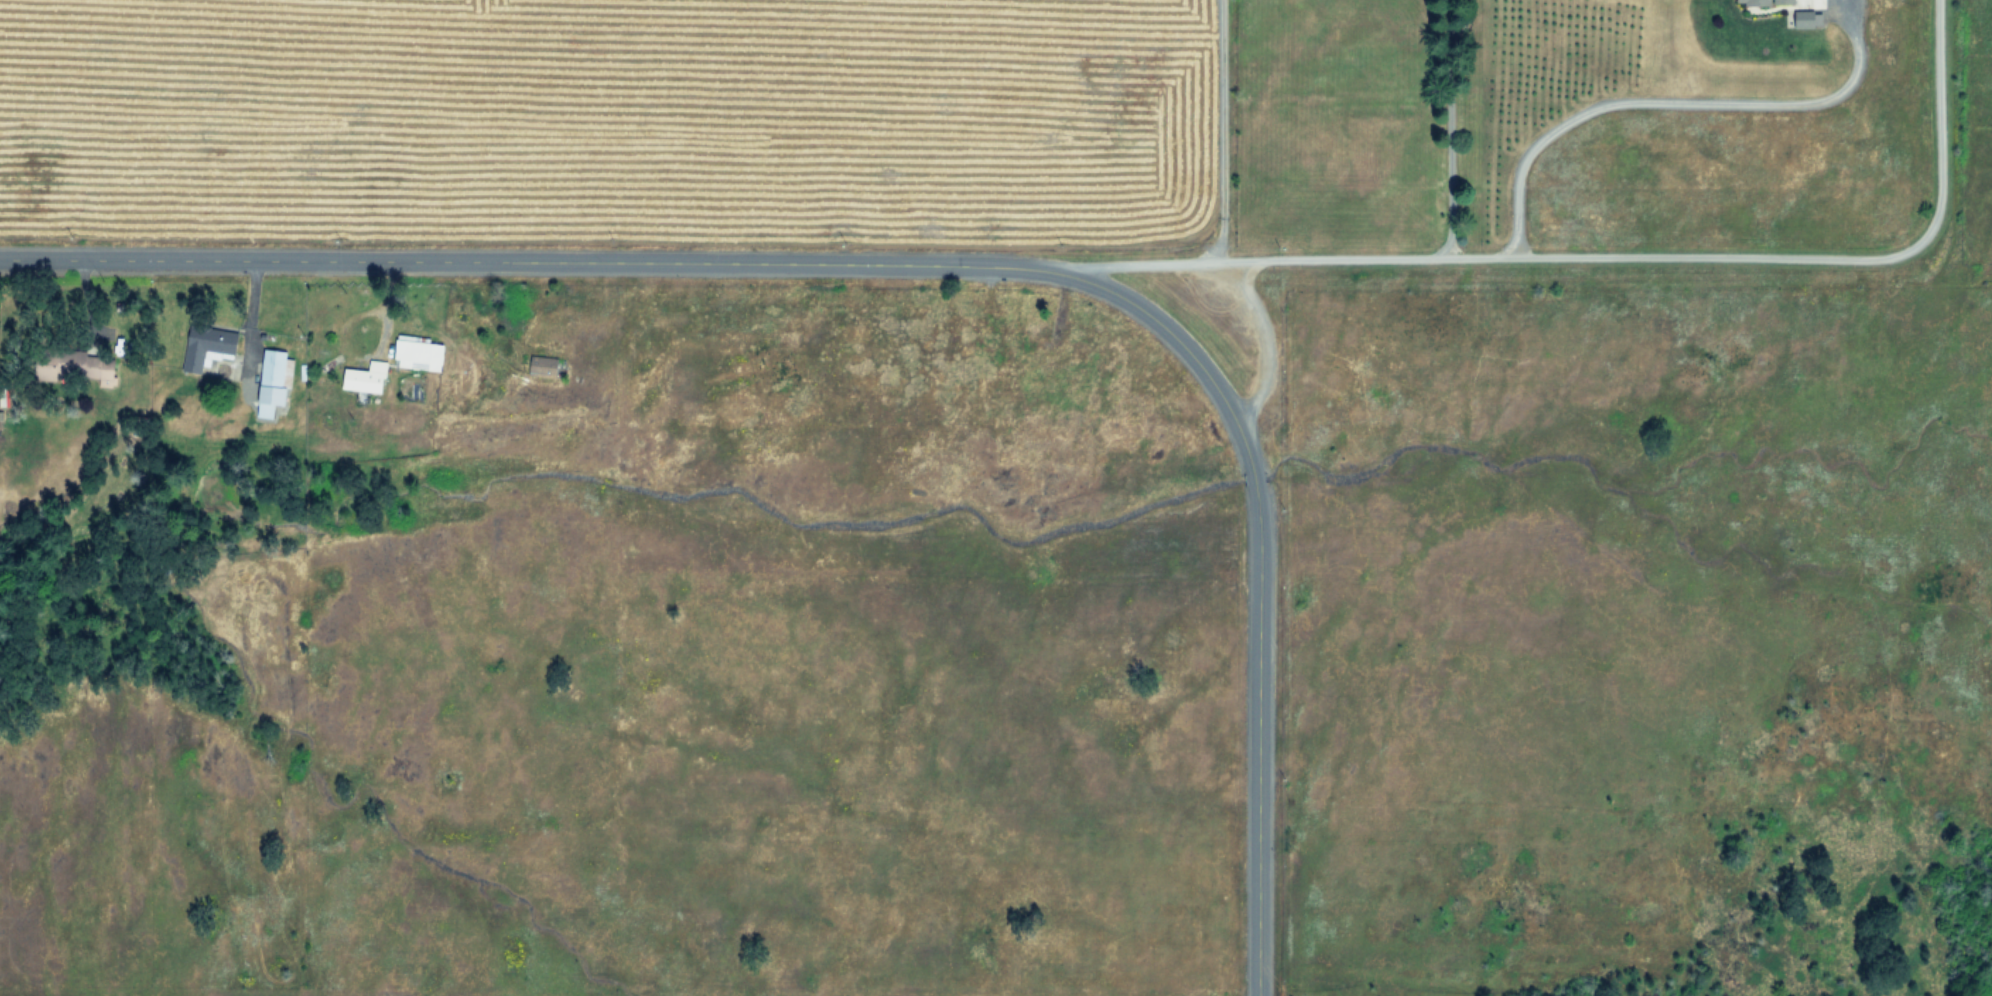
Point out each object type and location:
building: (1763, 1)
building: (1810, 18)
road: (1671, 100)
crop: (600, 114)
crop: (1622, 115)
road: (1448, 127)
road: (1220, 130)
road: (1710, 255)
road: (674, 263)
road: (1133, 263)
road: (1263, 343)
building: (208, 345)
building: (419, 352)
building: (544, 364)
building: (89, 365)
building: (366, 376)
building: (274, 379)
road: (1252, 477)
road: (1258, 739)

